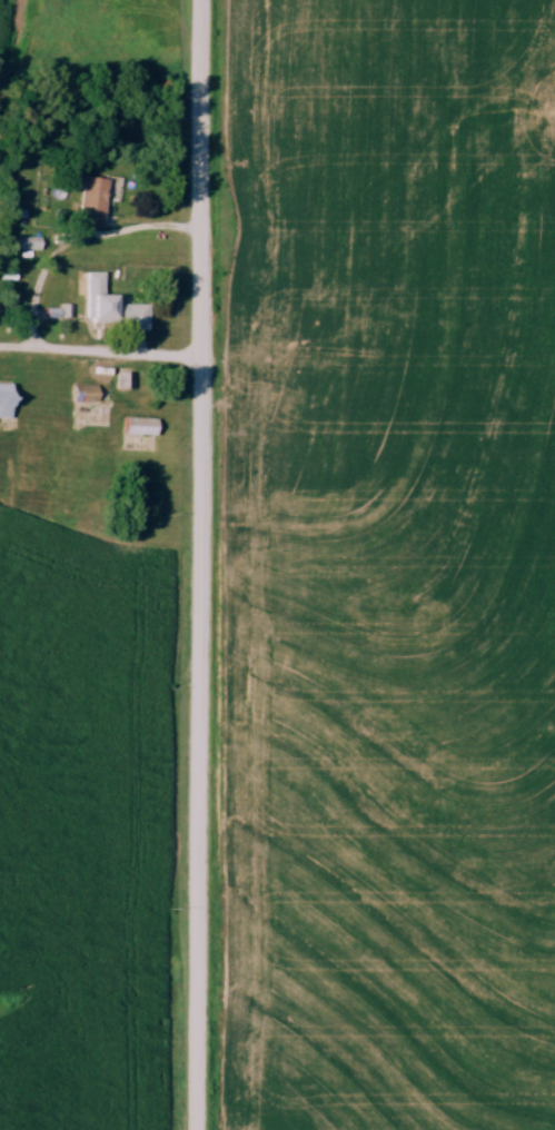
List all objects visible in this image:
building: (93, 200)
building: (29, 242)
building: (111, 305)
road: (100, 354)
building: (125, 379)
building: (87, 393)
building: (7, 399)
building: (141, 425)
road: (200, 565)

